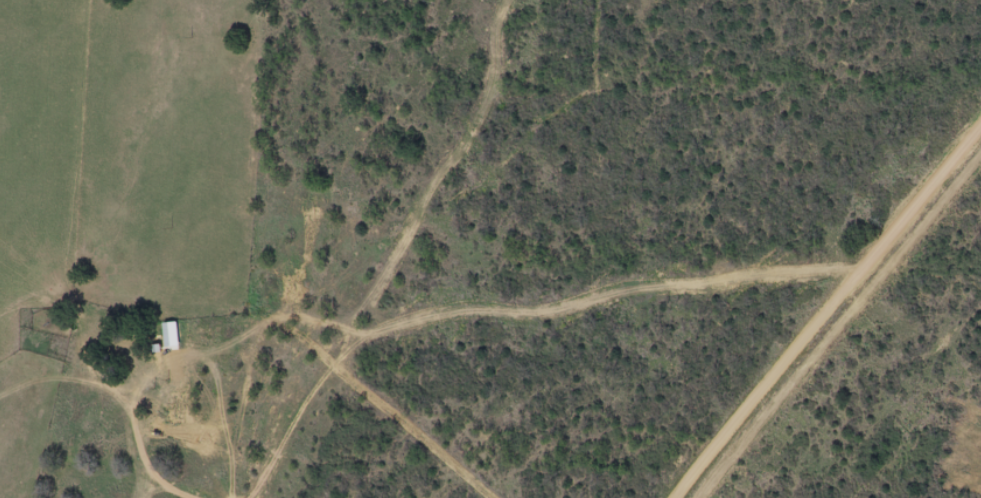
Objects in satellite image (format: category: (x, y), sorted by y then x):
road: (836, 323)
building: (174, 397)
road: (234, 450)

